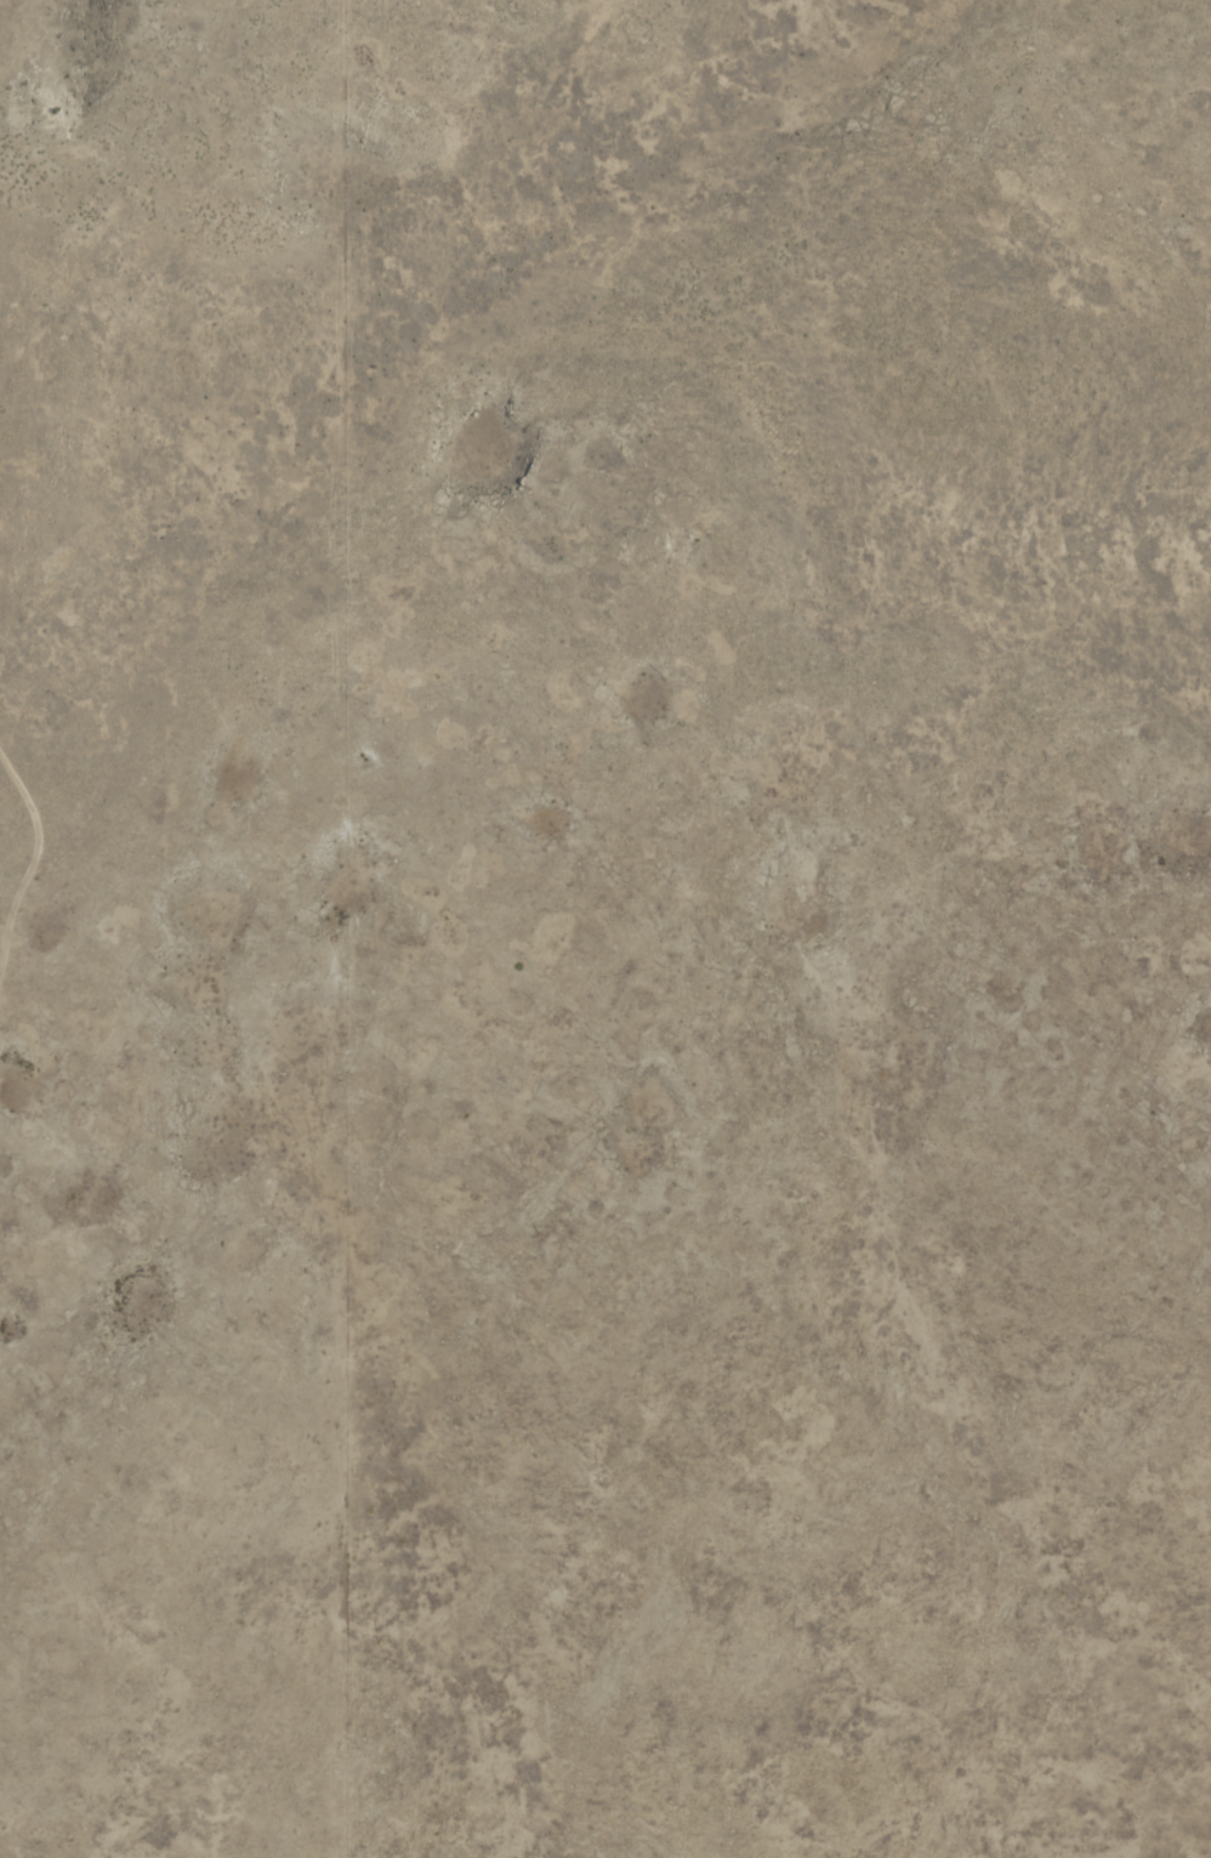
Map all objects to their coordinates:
road: (984, 174)

